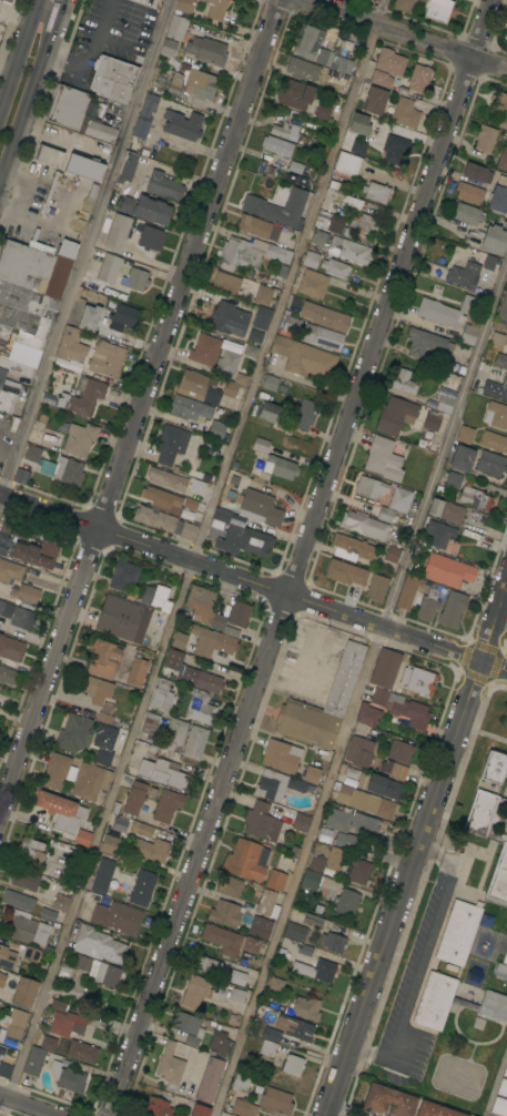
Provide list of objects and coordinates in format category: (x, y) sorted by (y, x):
building: (6, 0)
building: (404, 4)
building: (184, 6)
building: (215, 9)
building: (438, 9)
road: (379, 11)
road: (58, 12)
building: (176, 27)
road: (407, 33)
building: (305, 41)
building: (168, 47)
building: (206, 50)
road: (19, 57)
building: (324, 58)
building: (389, 61)
building: (343, 64)
building: (301, 68)
building: (418, 78)
building: (110, 79)
building: (382, 79)
building: (192, 83)
building: (398, 85)
building: (294, 93)
building: (373, 98)
building: (499, 101)
road: (27, 103)
building: (65, 105)
building: (323, 111)
building: (406, 112)
building: (145, 115)
building: (505, 116)
building: (182, 124)
building: (358, 124)
building: (501, 124)
building: (99, 129)
building: (285, 131)
building: (485, 138)
building: (306, 139)
building: (277, 145)
building: (356, 145)
building: (394, 149)
building: (49, 155)
building: (503, 159)
building: (87, 164)
building: (346, 165)
building: (126, 166)
building: (295, 168)
building: (477, 172)
building: (292, 177)
building: (302, 181)
building: (163, 186)
building: (376, 192)
building: (469, 193)
building: (498, 195)
building: (351, 203)
building: (278, 207)
building: (146, 209)
building: (465, 213)
building: (364, 222)
building: (253, 225)
building: (338, 225)
building: (118, 233)
building: (150, 237)
building: (317, 237)
building: (494, 240)
road: (83, 245)
building: (40, 246)
building: (65, 250)
building: (349, 250)
building: (237, 253)
building: (276, 253)
building: (310, 258)
building: (489, 263)
building: (334, 267)
building: (32, 268)
building: (108, 268)
building: (464, 275)
building: (133, 277)
building: (268, 280)
building: (225, 282)
building: (313, 283)
road: (283, 292)
building: (263, 295)
building: (295, 304)
building: (503, 308)
building: (27, 310)
building: (446, 311)
building: (325, 316)
building: (89, 317)
building: (122, 317)
building: (262, 317)
building: (229, 318)
building: (291, 324)
building: (470, 329)
building: (3, 333)
building: (255, 336)
building: (322, 336)
building: (498, 338)
building: (29, 341)
building: (428, 343)
building: (71, 345)
building: (234, 346)
building: (205, 349)
building: (250, 351)
building: (105, 358)
building: (275, 359)
building: (303, 359)
building: (500, 359)
building: (227, 361)
building: (454, 365)
building: (17, 366)
building: (241, 378)
building: (270, 382)
building: (403, 382)
building: (8, 383)
building: (194, 384)
building: (496, 385)
building: (224, 387)
building: (84, 396)
building: (7, 400)
road: (138, 402)
building: (444, 404)
building: (187, 408)
building: (268, 412)
building: (306, 414)
building: (497, 414)
building: (395, 415)
building: (42, 418)
building: (432, 422)
building: (219, 430)
building: (465, 434)
building: (57, 436)
building: (80, 438)
building: (494, 442)
building: (260, 444)
building: (171, 445)
building: (192, 450)
building: (32, 454)
building: (239, 455)
building: (385, 458)
building: (462, 458)
building: (490, 463)
building: (235, 465)
building: (281, 467)
building: (68, 470)
building: (19, 476)
building: (172, 480)
building: (233, 480)
building: (453, 480)
building: (371, 487)
building: (475, 498)
building: (162, 499)
building: (399, 499)
building: (190, 504)
building: (257, 507)
building: (446, 510)
building: (220, 518)
building: (366, 519)
building: (163, 521)
building: (11, 530)
building: (436, 534)
building: (245, 541)
building: (352, 548)
building: (2, 550)
building: (38, 550)
building: (393, 554)
road: (298, 557)
building: (447, 570)
building: (10, 571)
building: (345, 572)
building: (123, 575)
road: (253, 581)
building: (376, 588)
building: (408, 590)
building: (24, 592)
building: (156, 596)
building: (131, 597)
building: (426, 608)
building: (453, 608)
building: (206, 609)
building: (239, 613)
building: (16, 615)
building: (122, 619)
building: (156, 625)
building: (146, 640)
building: (179, 640)
building: (212, 641)
building: (11, 648)
building: (103, 658)
building: (173, 659)
building: (385, 668)
building: (136, 671)
building: (346, 671)
building: (7, 676)
building: (201, 679)
building: (418, 680)
building: (95, 689)
road: (358, 690)
building: (161, 696)
building: (402, 707)
building: (200, 708)
building: (105, 713)
building: (367, 714)
building: (150, 723)
building: (73, 732)
building: (172, 734)
building: (104, 742)
building: (194, 742)
building: (358, 751)
building: (399, 751)
building: (281, 755)
building: (494, 767)
building: (55, 770)
building: (394, 770)
building: (161, 772)
building: (311, 774)
building: (90, 780)
building: (274, 784)
building: (378, 784)
building: (300, 785)
building: (152, 791)
building: (134, 799)
building: (364, 801)
building: (166, 805)
building: (115, 808)
building: (62, 812)
building: (337, 819)
building: (302, 820)
building: (116, 821)
building: (261, 822)
building: (364, 824)
building: (141, 829)
road: (100, 830)
building: (83, 835)
building: (489, 838)
building: (345, 841)
building: (63, 845)
building: (110, 845)
building: (28, 846)
building: (150, 849)
road: (415, 849)
building: (335, 859)
building: (246, 860)
building: (316, 863)
building: (358, 872)
building: (104, 876)
building: (24, 879)
building: (275, 880)
building: (310, 881)
building: (142, 886)
building: (230, 886)
building: (18, 900)
building: (60, 902)
building: (265, 902)
building: (346, 902)
building: (225, 913)
building: (48, 914)
building: (116, 917)
building: (314, 917)
building: (260, 927)
building: (28, 929)
building: (294, 931)
building: (458, 932)
building: (222, 939)
building: (332, 942)
building: (99, 944)
building: (251, 944)
building: (31, 954)
building: (7, 957)
building: (505, 957)
road: (420, 962)
building: (313, 965)
building: (500, 967)
building: (217, 970)
building: (100, 971)
building: (62, 972)
building: (2, 980)
building: (275, 984)
building: (21, 990)
building: (196, 991)
building: (236, 995)
parking lot: (415, 997)
building: (453, 1002)
building: (59, 1006)
building: (306, 1007)
building: (16, 1023)
building: (67, 1023)
building: (189, 1027)
building: (295, 1027)
building: (268, 1033)
building: (9, 1042)
building: (220, 1043)
building: (72, 1047)
building: (267, 1048)
building: (0, 1051)
building: (34, 1061)
building: (292, 1064)
building: (170, 1065)
building: (6, 1069)
building: (505, 1069)
building: (68, 1075)
building: (209, 1079)
building: (241, 1082)
building: (503, 1088)
building: (388, 1100)
building: (275, 1102)
road: (27, 1106)
building: (158, 1106)
building: (499, 1106)
road: (6, 1108)
building: (243, 1108)
building: (199, 1110)
road: (345, 1110)
building: (435, 1110)

